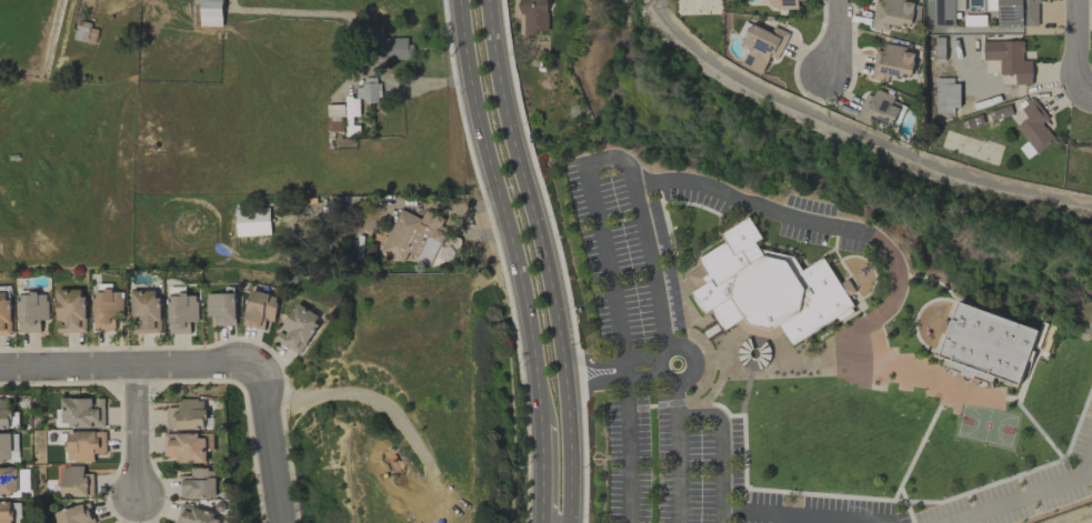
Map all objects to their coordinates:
building: (782, 3)
building: (210, 12)
building: (891, 12)
building: (943, 12)
building: (1018, 12)
building: (534, 16)
road: (838, 37)
rooftop solar panel: (763, 42)
building: (761, 46)
road: (1076, 46)
building: (393, 48)
rooftop solar panel: (750, 58)
building: (1009, 59)
building: (892, 61)
rooftop solar panel: (891, 69)
rooftop solar panel: (986, 78)
road: (412, 80)
building: (368, 91)
road: (1085, 92)
building: (946, 94)
building: (878, 109)
building: (1034, 125)
road: (856, 132)
road: (603, 159)
road: (525, 183)
road: (747, 198)
road: (500, 202)
building: (252, 220)
building: (413, 235)
building: (764, 288)
building: (107, 306)
building: (221, 308)
building: (259, 309)
building: (70, 310)
building: (4, 311)
building: (31, 311)
building: (146, 311)
building: (181, 312)
building: (297, 328)
building: (986, 344)
road: (667, 351)
road: (609, 358)
fountain: (677, 362)
road: (126, 366)
road: (607, 382)
road: (568, 406)
building: (81, 412)
building: (6, 413)
building: (187, 414)
road: (138, 432)
road: (269, 443)
building: (84, 445)
building: (4, 446)
building: (188, 446)
road: (721, 446)
road: (630, 450)
road: (678, 451)
road: (570, 462)
road: (541, 464)
building: (8, 482)
building: (74, 482)
building: (199, 483)
road: (570, 492)
road: (1026, 493)
building: (6, 512)
building: (74, 514)
road: (569, 514)
road: (802, 514)
building: (196, 515)

